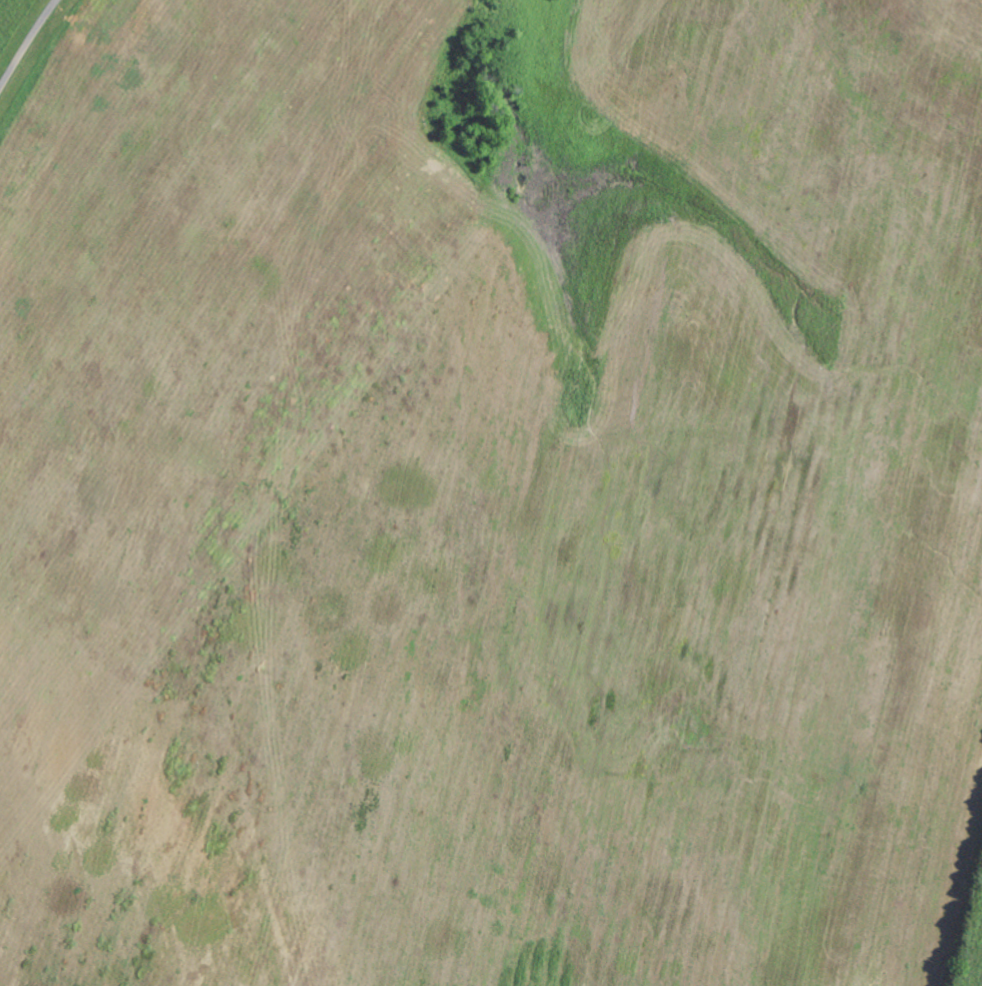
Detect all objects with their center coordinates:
road: (1, 3)

